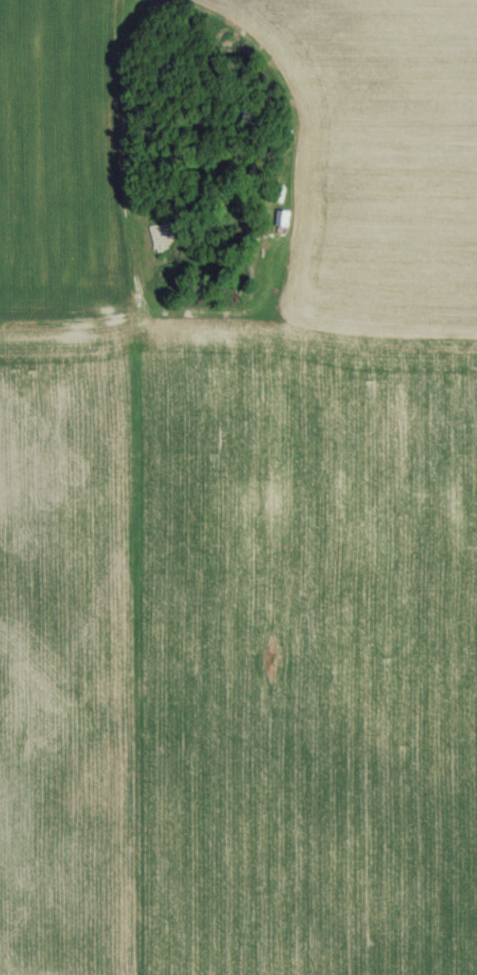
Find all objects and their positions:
building: (284, 216)

